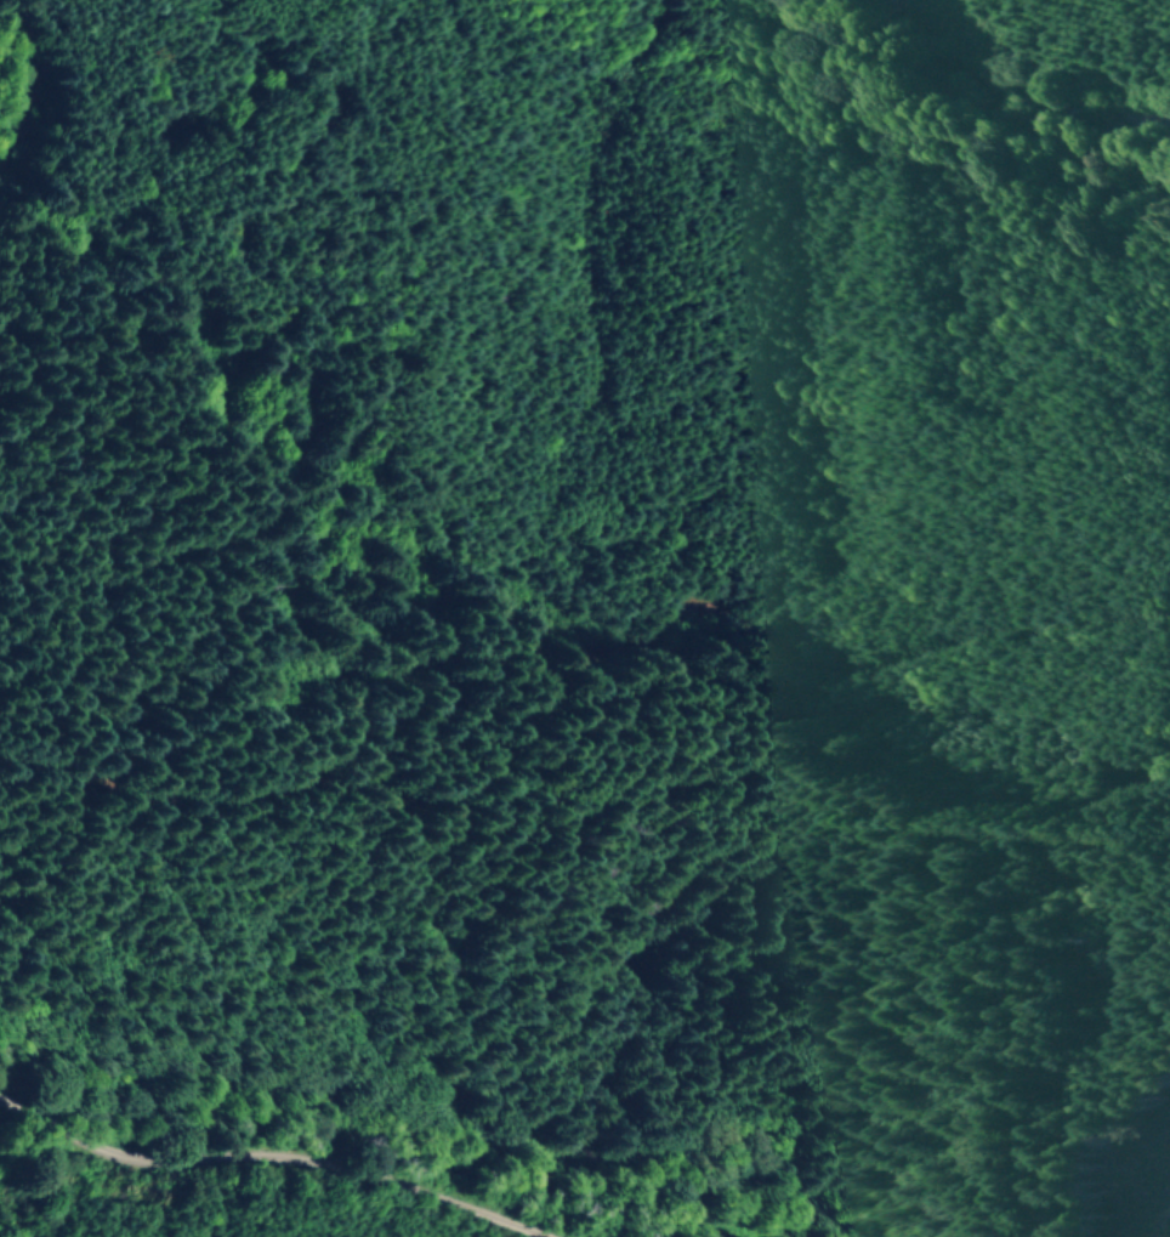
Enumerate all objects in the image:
road: (222, 1124)

